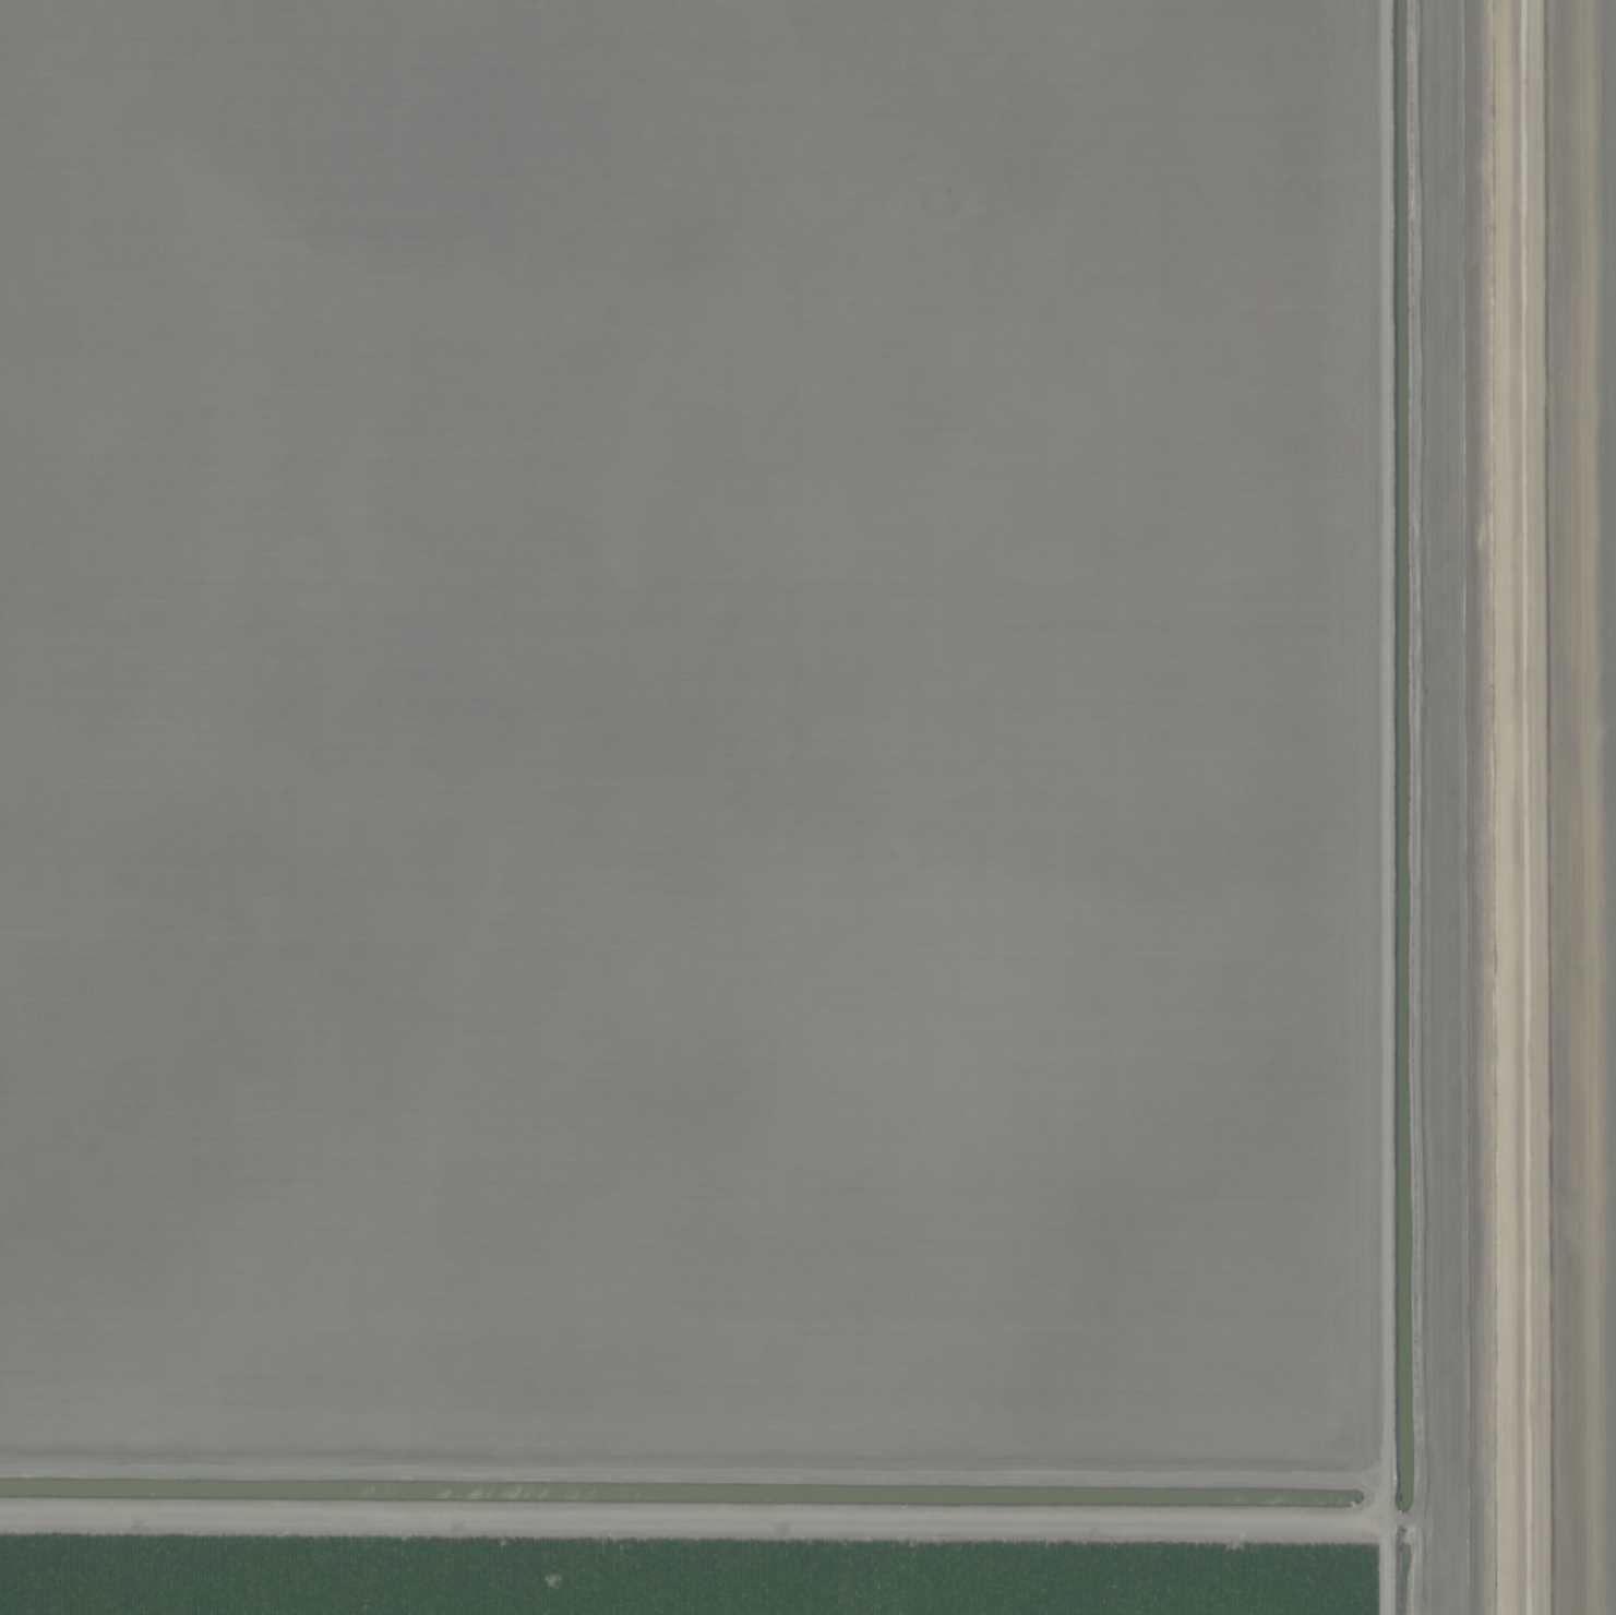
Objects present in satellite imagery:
crop: (807, 807)
road: (1519, 807)

